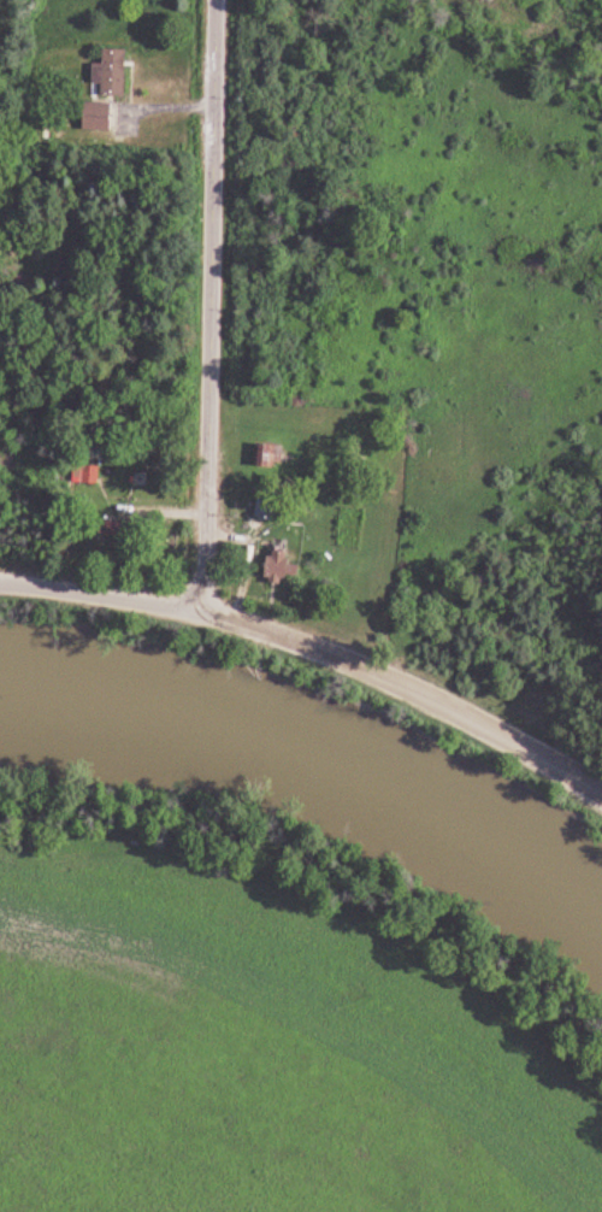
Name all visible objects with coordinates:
road: (163, 110)
building: (101, 118)
road: (213, 306)
building: (273, 454)
building: (270, 505)
road: (164, 513)
building: (117, 528)
building: (288, 566)
road: (246, 584)
road: (314, 651)
river: (317, 760)
road: (326, 916)

